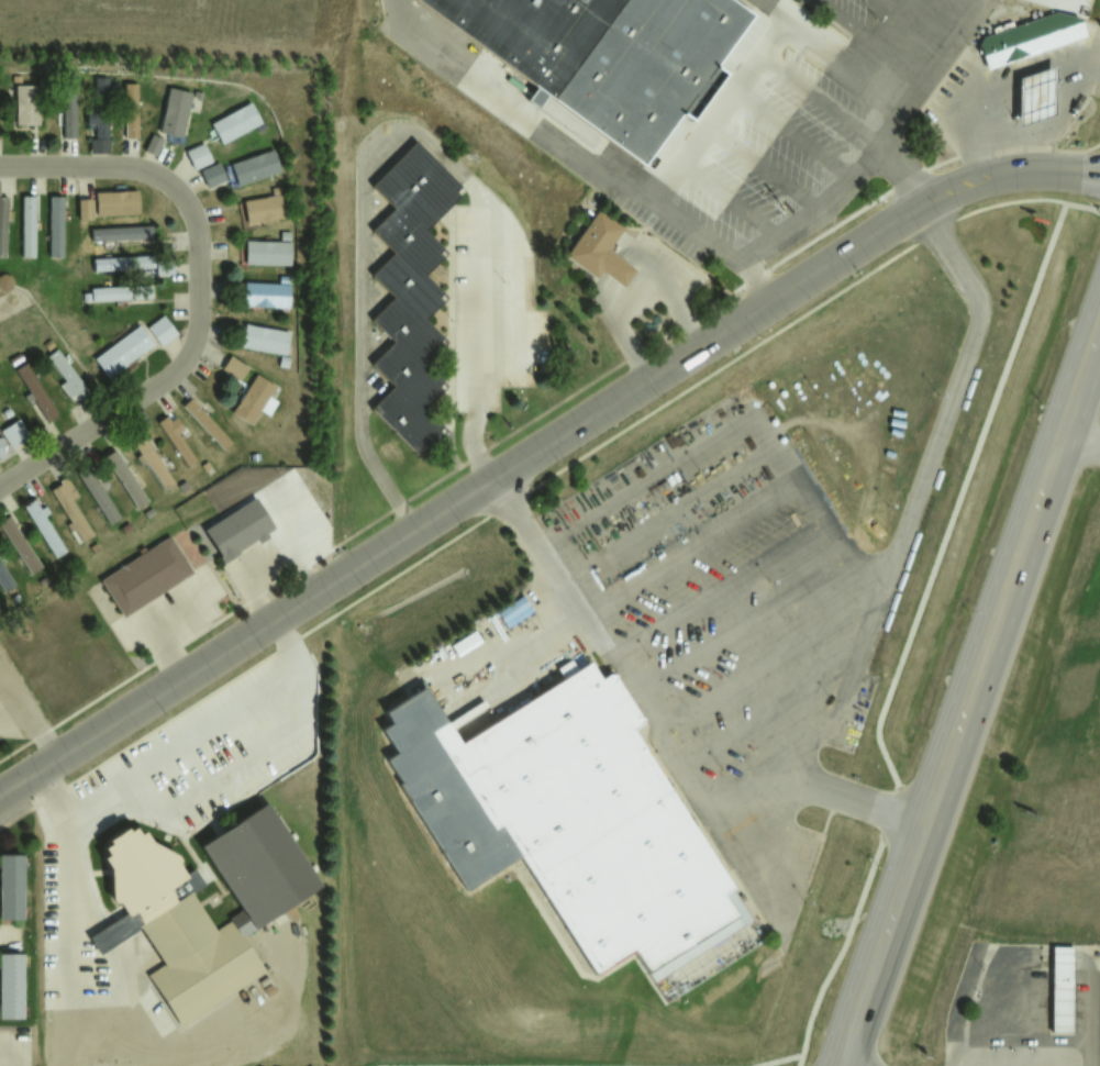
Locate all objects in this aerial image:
building: (1062, 24)
building: (1008, 46)
parking lot: (871, 54)
building: (618, 55)
building: (1037, 97)
building: (26, 104)
building: (130, 110)
building: (175, 111)
building: (68, 113)
road: (532, 113)
road: (829, 113)
building: (235, 122)
building: (97, 131)
building: (198, 155)
road: (726, 155)
building: (254, 167)
building: (212, 175)
building: (109, 203)
building: (265, 208)
building: (2, 224)
building: (55, 225)
building: (27, 226)
building: (124, 232)
building: (601, 249)
building: (268, 252)
building: (122, 263)
building: (4, 281)
building: (120, 292)
road: (198, 292)
building: (411, 292)
building: (266, 293)
building: (160, 330)
building: (264, 338)
building: (122, 351)
building: (234, 367)
building: (66, 375)
building: (34, 391)
building: (255, 399)
building: (205, 423)
building: (10, 435)
building: (175, 436)
road: (936, 438)
road: (538, 447)
building: (125, 478)
building: (98, 495)
building: (68, 507)
building: (44, 526)
building: (235, 531)
building: (19, 545)
building: (146, 574)
building: (3, 580)
parking lot: (741, 636)
building: (465, 643)
road: (969, 693)
building: (443, 791)
building: (605, 833)
building: (12, 887)
building: (182, 912)
building: (12, 986)
building: (1063, 989)

